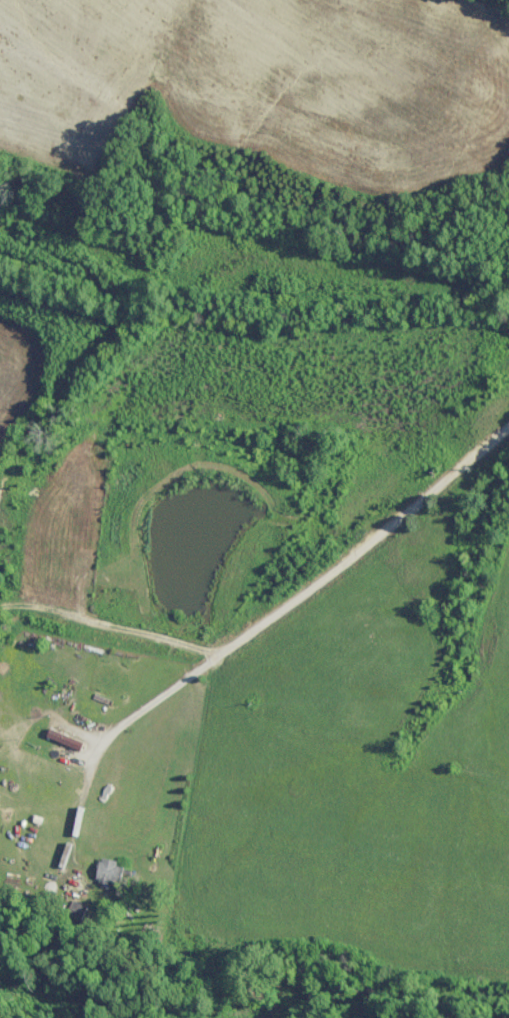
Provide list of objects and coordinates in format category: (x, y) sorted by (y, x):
road: (314, 556)
building: (61, 738)
building: (107, 872)

